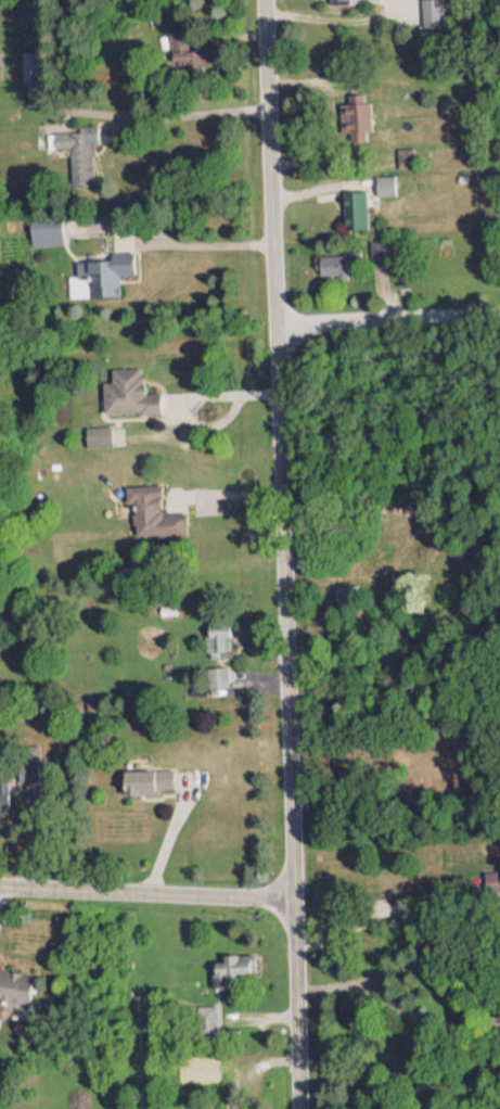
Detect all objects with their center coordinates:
road: (331, 21)
building: (27, 55)
building: (350, 112)
road: (165, 118)
building: (352, 203)
road: (198, 242)
building: (329, 259)
building: (103, 265)
road: (386, 322)
building: (126, 387)
road: (223, 494)
building: (146, 502)
road: (281, 553)
building: (214, 670)
building: (145, 775)
building: (2, 789)
road: (163, 839)
road: (145, 900)
road: (380, 915)
building: (233, 957)
building: (13, 980)

